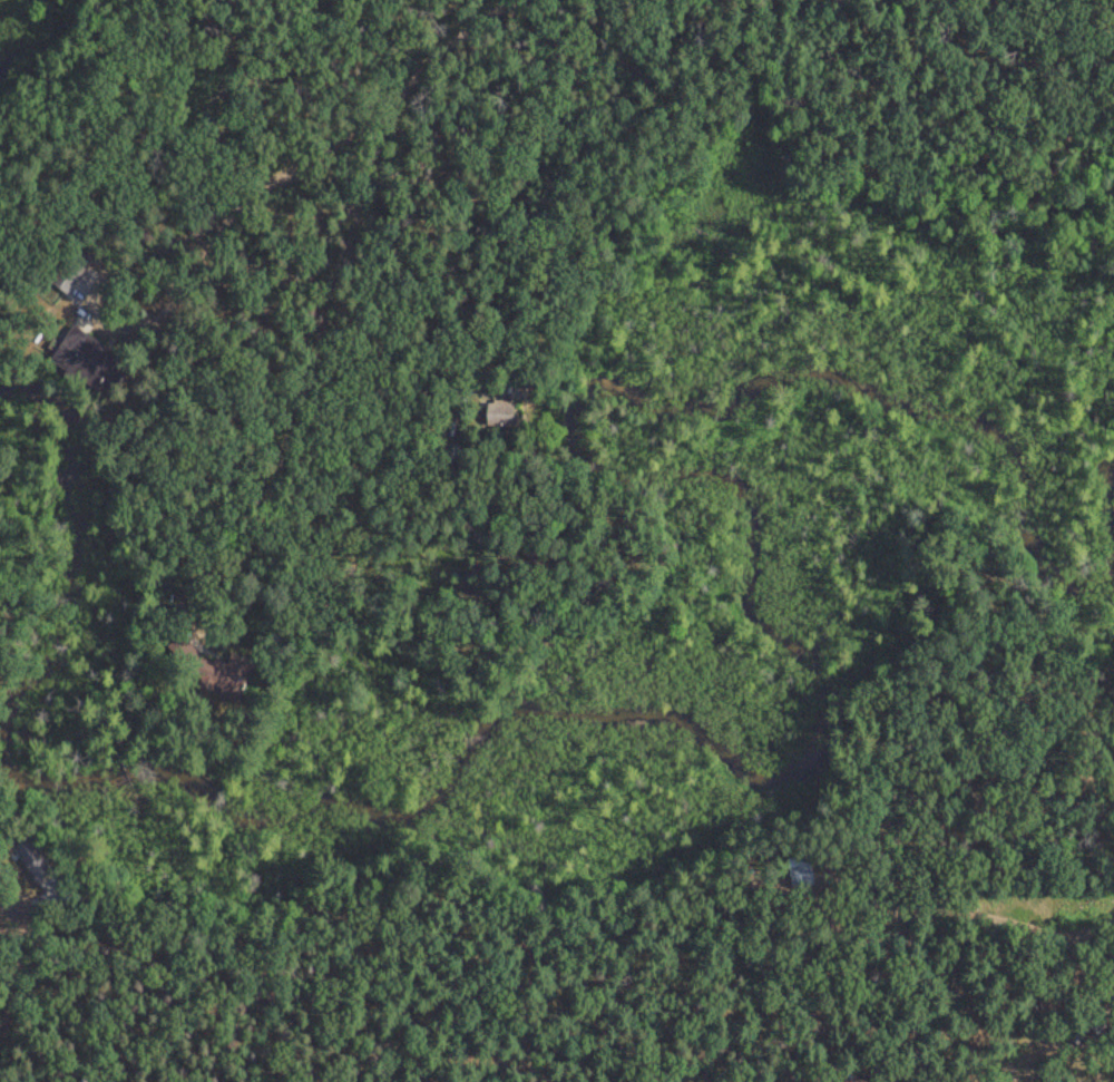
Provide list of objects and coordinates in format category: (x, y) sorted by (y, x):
road: (17, 18)
road: (147, 92)
road: (353, 135)
road: (649, 212)
road: (208, 467)
river: (430, 686)

